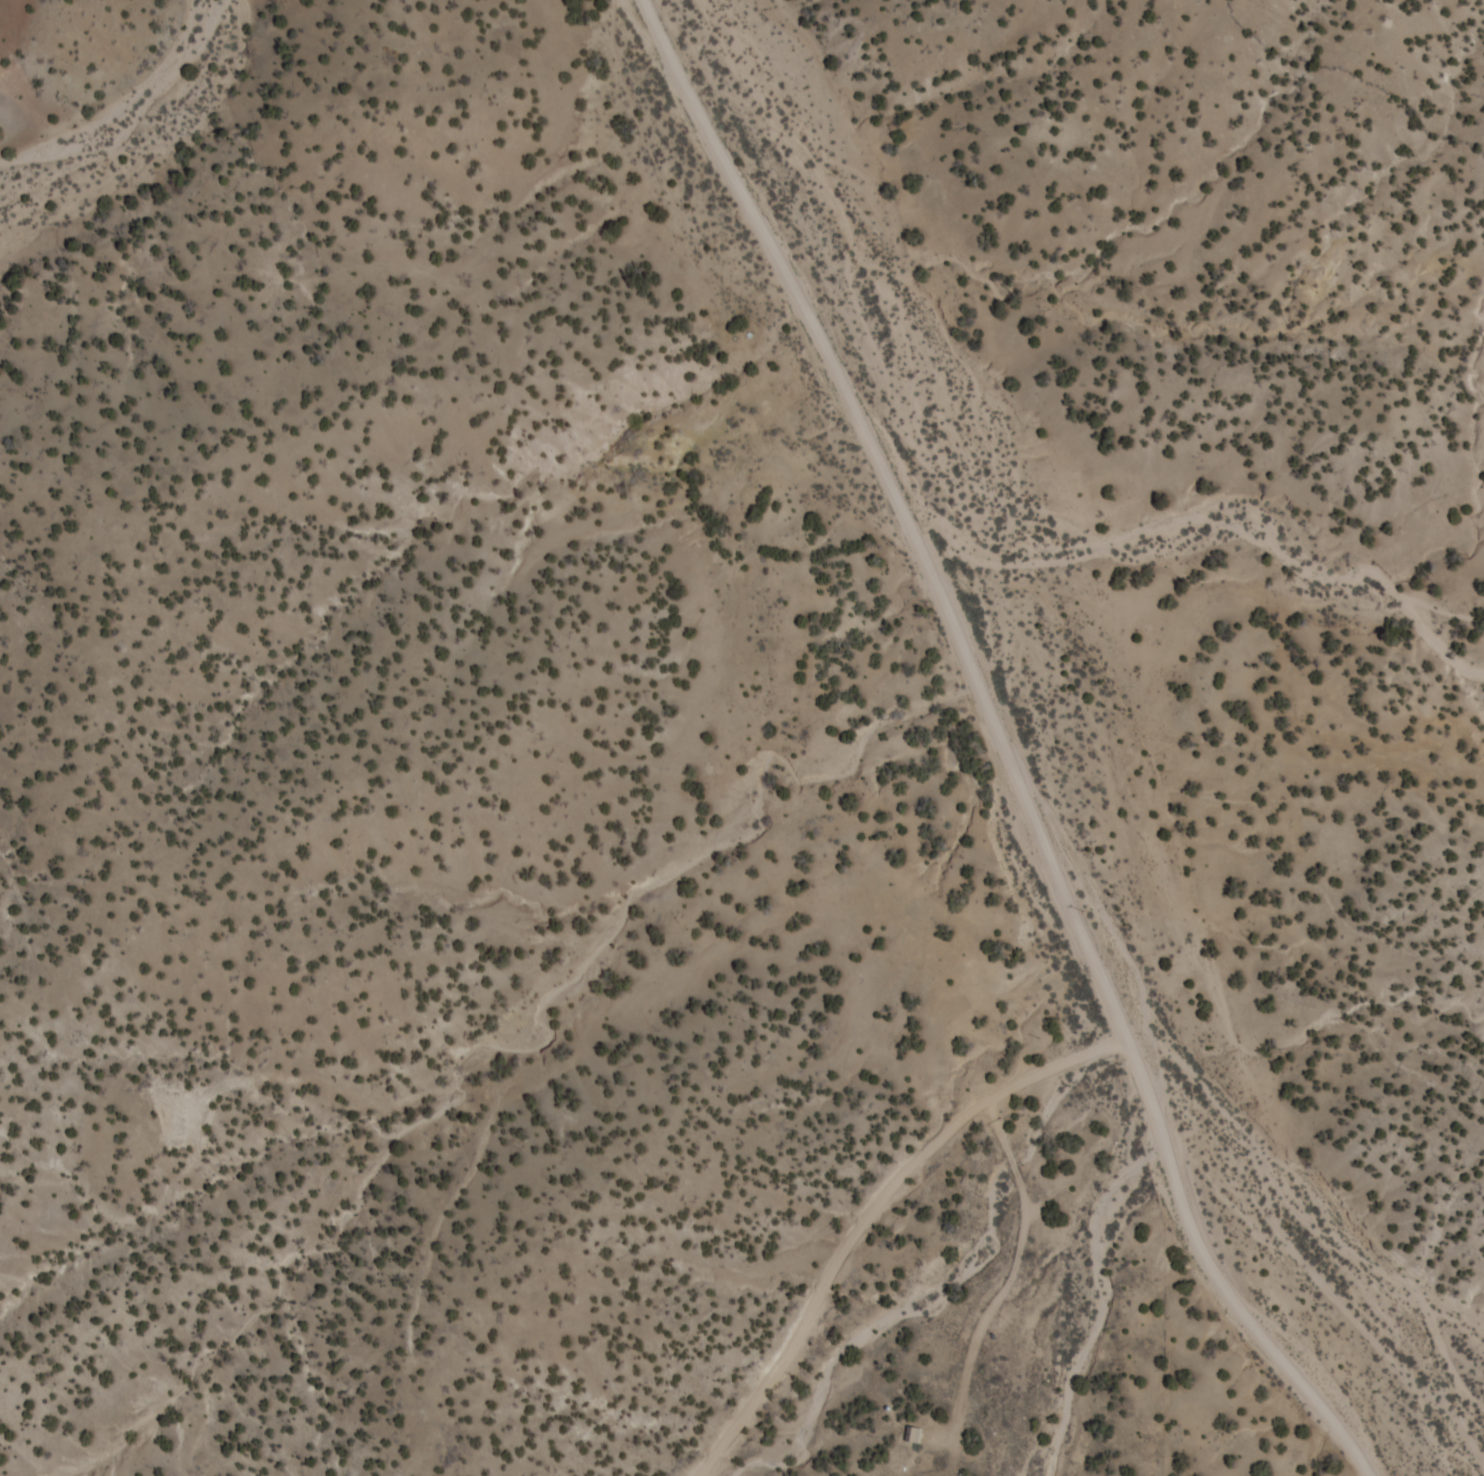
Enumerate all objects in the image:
road: (826, 331)
road: (1156, 1089)
road: (874, 1204)
road: (1015, 1269)
building: (919, 1426)
building: (924, 1435)

